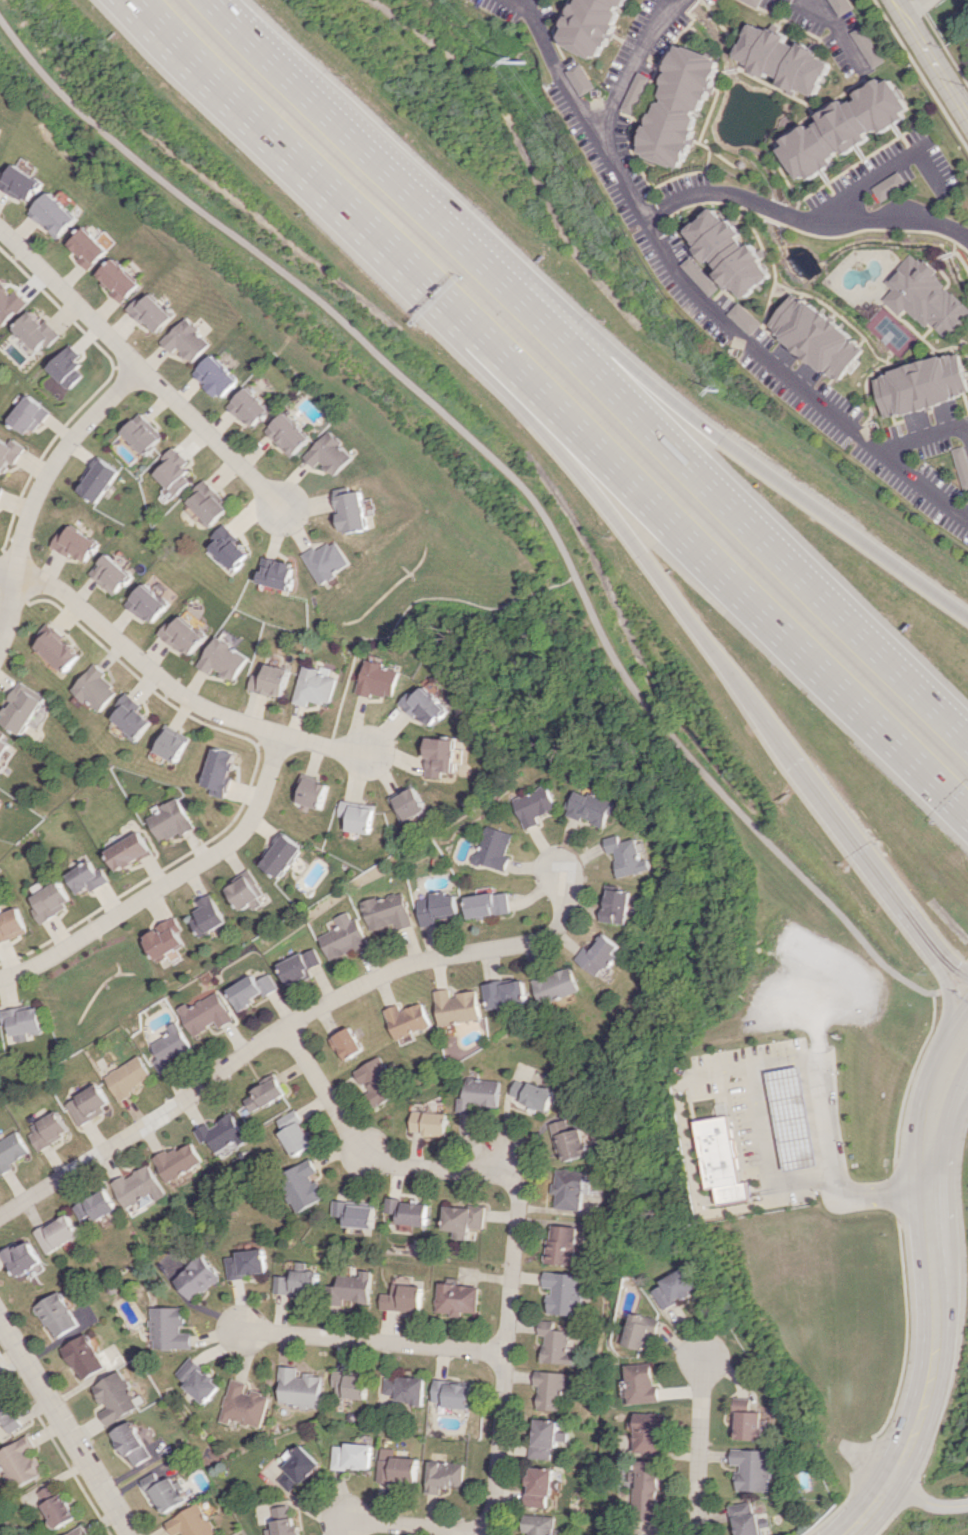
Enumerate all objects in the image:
building: (752, 2)
road: (807, 4)
building: (840, 6)
road: (893, 8)
road: (912, 8)
building: (594, 27)
road: (832, 34)
building: (865, 45)
building: (782, 60)
road: (636, 63)
power tower: (527, 64)
road: (555, 65)
road: (934, 67)
building: (581, 79)
building: (635, 92)
building: (678, 109)
building: (842, 128)
road: (349, 131)
road: (306, 156)
road: (880, 167)
building: (20, 183)
building: (887, 185)
building: (53, 215)
road: (799, 220)
building: (87, 248)
building: (727, 252)
building: (697, 276)
building: (118, 279)
building: (922, 297)
road: (69, 298)
building: (9, 304)
building: (151, 312)
building: (741, 318)
building: (36, 331)
building: (812, 336)
building: (186, 340)
road: (753, 350)
building: (67, 367)
building: (215, 376)
building: (920, 384)
power tower: (718, 395)
building: (248, 407)
building: (28, 415)
building: (142, 433)
road: (922, 433)
building: (287, 434)
road: (211, 439)
road: (725, 439)
building: (9, 452)
building: (328, 454)
building: (962, 465)
building: (174, 471)
building: (99, 480)
road: (41, 483)
building: (0, 489)
road: (526, 491)
building: (209, 502)
road: (725, 502)
building: (353, 512)
building: (75, 543)
building: (230, 547)
building: (328, 560)
road: (716, 561)
building: (277, 572)
building: (111, 574)
building: (147, 603)
building: (182, 635)
building: (57, 650)
road: (721, 652)
road: (135, 657)
building: (222, 659)
building: (269, 679)
building: (377, 679)
building: (313, 686)
building: (94, 688)
building: (423, 705)
building: (20, 707)
building: (130, 716)
building: (170, 743)
building: (2, 746)
road: (323, 747)
building: (439, 756)
building: (219, 770)
building: (309, 792)
building: (407, 803)
building: (533, 805)
building: (590, 807)
building: (356, 817)
building: (171, 820)
building: (493, 848)
building: (129, 851)
building: (281, 854)
building: (87, 877)
road: (169, 883)
building: (248, 892)
building: (49, 901)
building: (488, 904)
building: (617, 906)
building: (438, 907)
building: (386, 912)
building: (210, 915)
building: (10, 924)
building: (344, 937)
building: (167, 938)
building: (600, 955)
building: (300, 966)
building: (556, 985)
building: (252, 989)
building: (505, 994)
building: (457, 1006)
building: (207, 1013)
road: (295, 1019)
building: (408, 1019)
building: (21, 1020)
road: (816, 1024)
building: (348, 1043)
building: (171, 1047)
building: (129, 1077)
building: (378, 1081)
building: (268, 1093)
building: (479, 1094)
building: (532, 1094)
building: (88, 1104)
road: (948, 1104)
building: (792, 1118)
road: (761, 1121)
building: (431, 1123)
building: (49, 1130)
building: (297, 1133)
building: (225, 1134)
building: (569, 1141)
road: (362, 1149)
building: (12, 1151)
building: (181, 1160)
building: (724, 1160)
road: (832, 1163)
building: (303, 1185)
building: (141, 1186)
building: (572, 1188)
building: (98, 1206)
building: (411, 1211)
building: (358, 1213)
building: (465, 1219)
building: (59, 1233)
building: (563, 1244)
building: (23, 1257)
building: (248, 1263)
building: (197, 1277)
building: (298, 1280)
building: (676, 1287)
building: (353, 1288)
road: (932, 1291)
building: (567, 1292)
building: (403, 1298)
building: (458, 1298)
building: (58, 1315)
building: (168, 1328)
building: (643, 1331)
road: (506, 1338)
road: (371, 1341)
building: (558, 1343)
building: (84, 1356)
building: (196, 1380)
building: (642, 1384)
building: (349, 1385)
building: (297, 1388)
building: (405, 1388)
building: (554, 1388)
building: (452, 1394)
building: (116, 1397)
building: (241, 1404)
building: (7, 1415)
building: (745, 1420)
road: (65, 1428)
building: (648, 1431)
building: (549, 1438)
road: (697, 1442)
building: (132, 1444)
building: (351, 1456)
building: (20, 1462)
building: (297, 1468)
building: (397, 1468)
building: (750, 1469)
building: (446, 1475)
building: (542, 1486)
building: (165, 1491)
building: (648, 1491)
road: (926, 1502)
building: (57, 1507)
building: (746, 1519)
building: (191, 1522)
building: (282, 1522)
building: (540, 1524)
road: (416, 1526)
building: (79, 1531)

